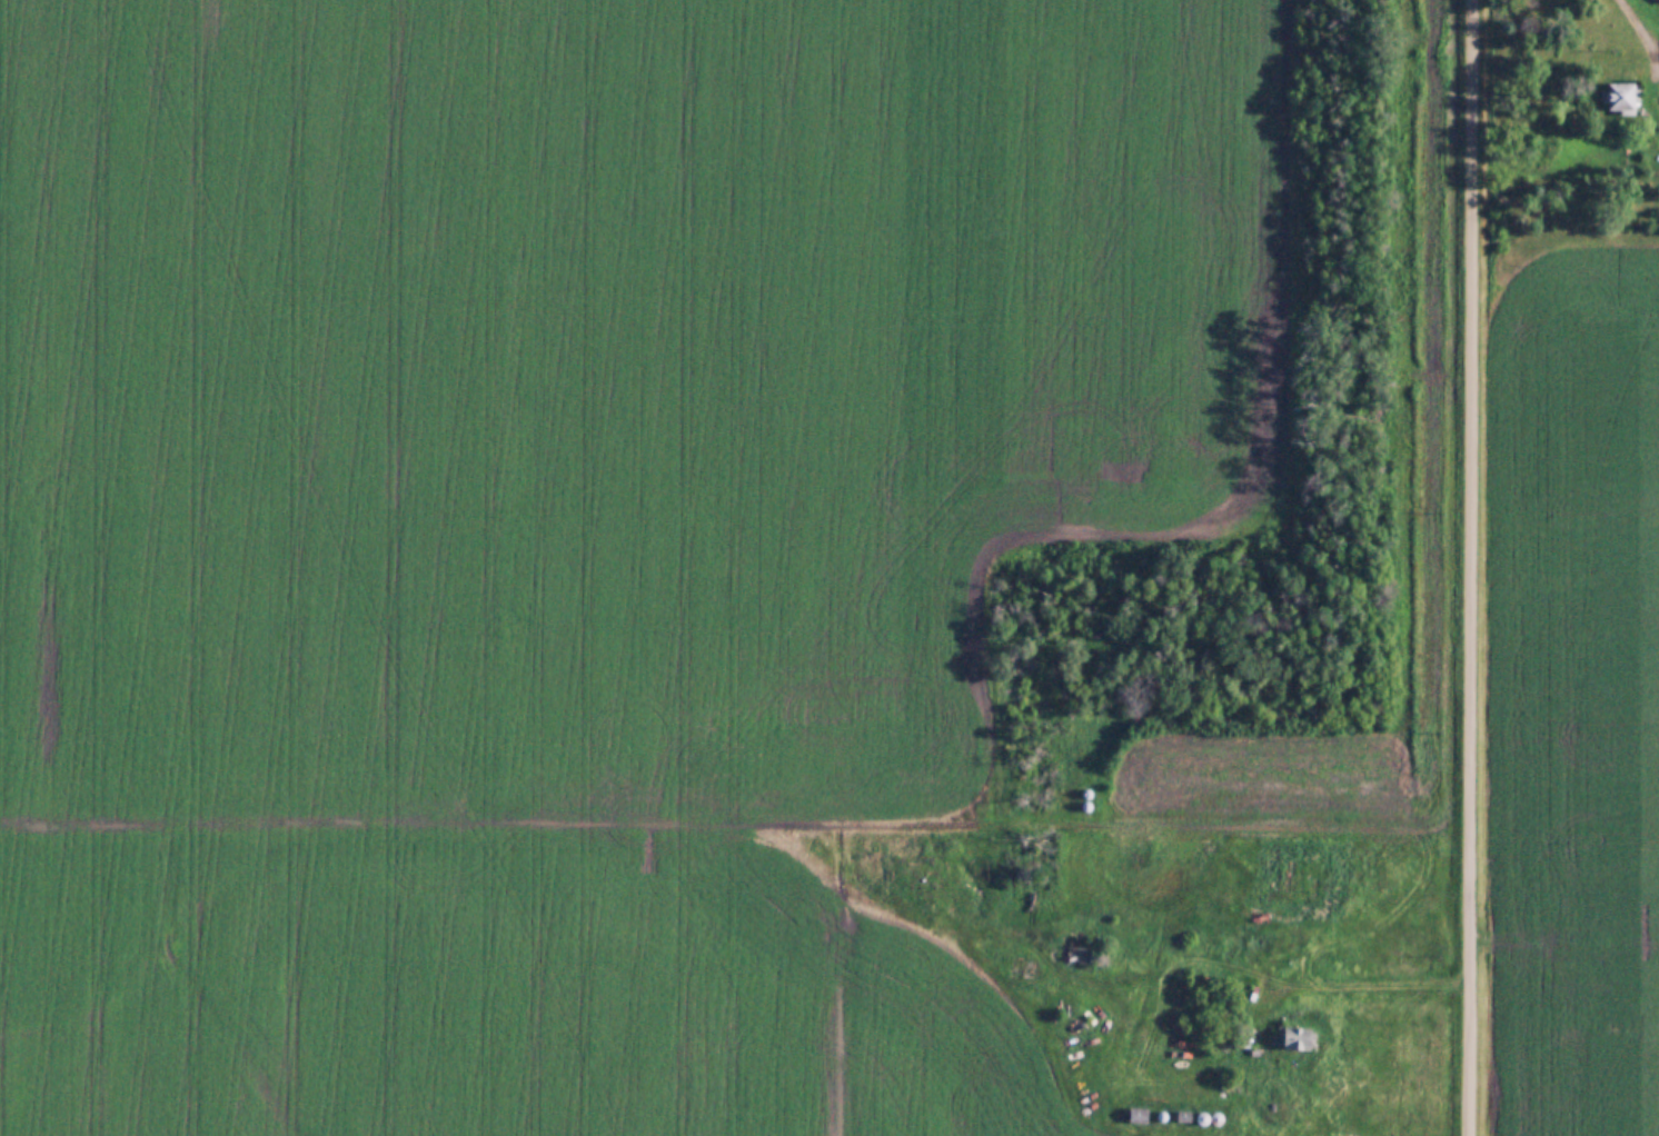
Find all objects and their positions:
road: (1642, 26)
road: (1471, 487)
road: (1363, 985)
road: (1470, 1055)

